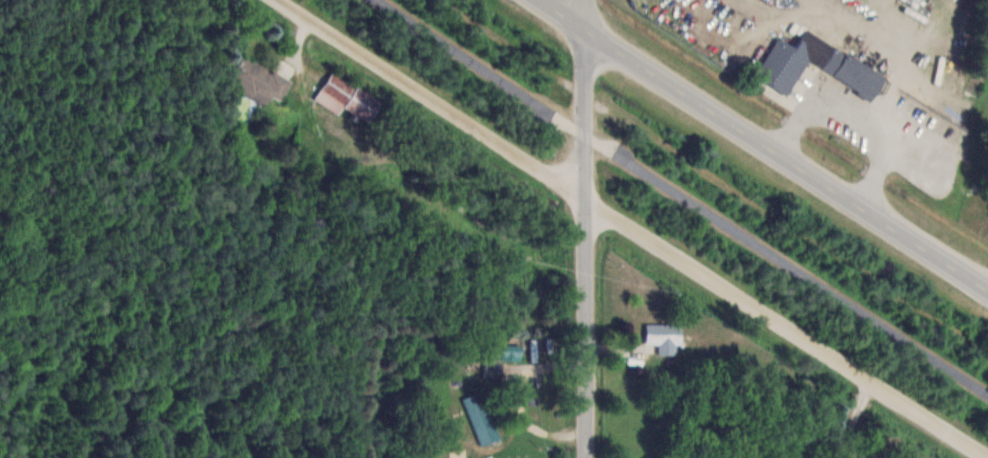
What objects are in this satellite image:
building: (820, 62)
building: (260, 81)
building: (349, 98)
road: (764, 147)
road: (683, 196)
road: (586, 228)
road: (630, 228)
building: (666, 337)
building: (501, 359)

